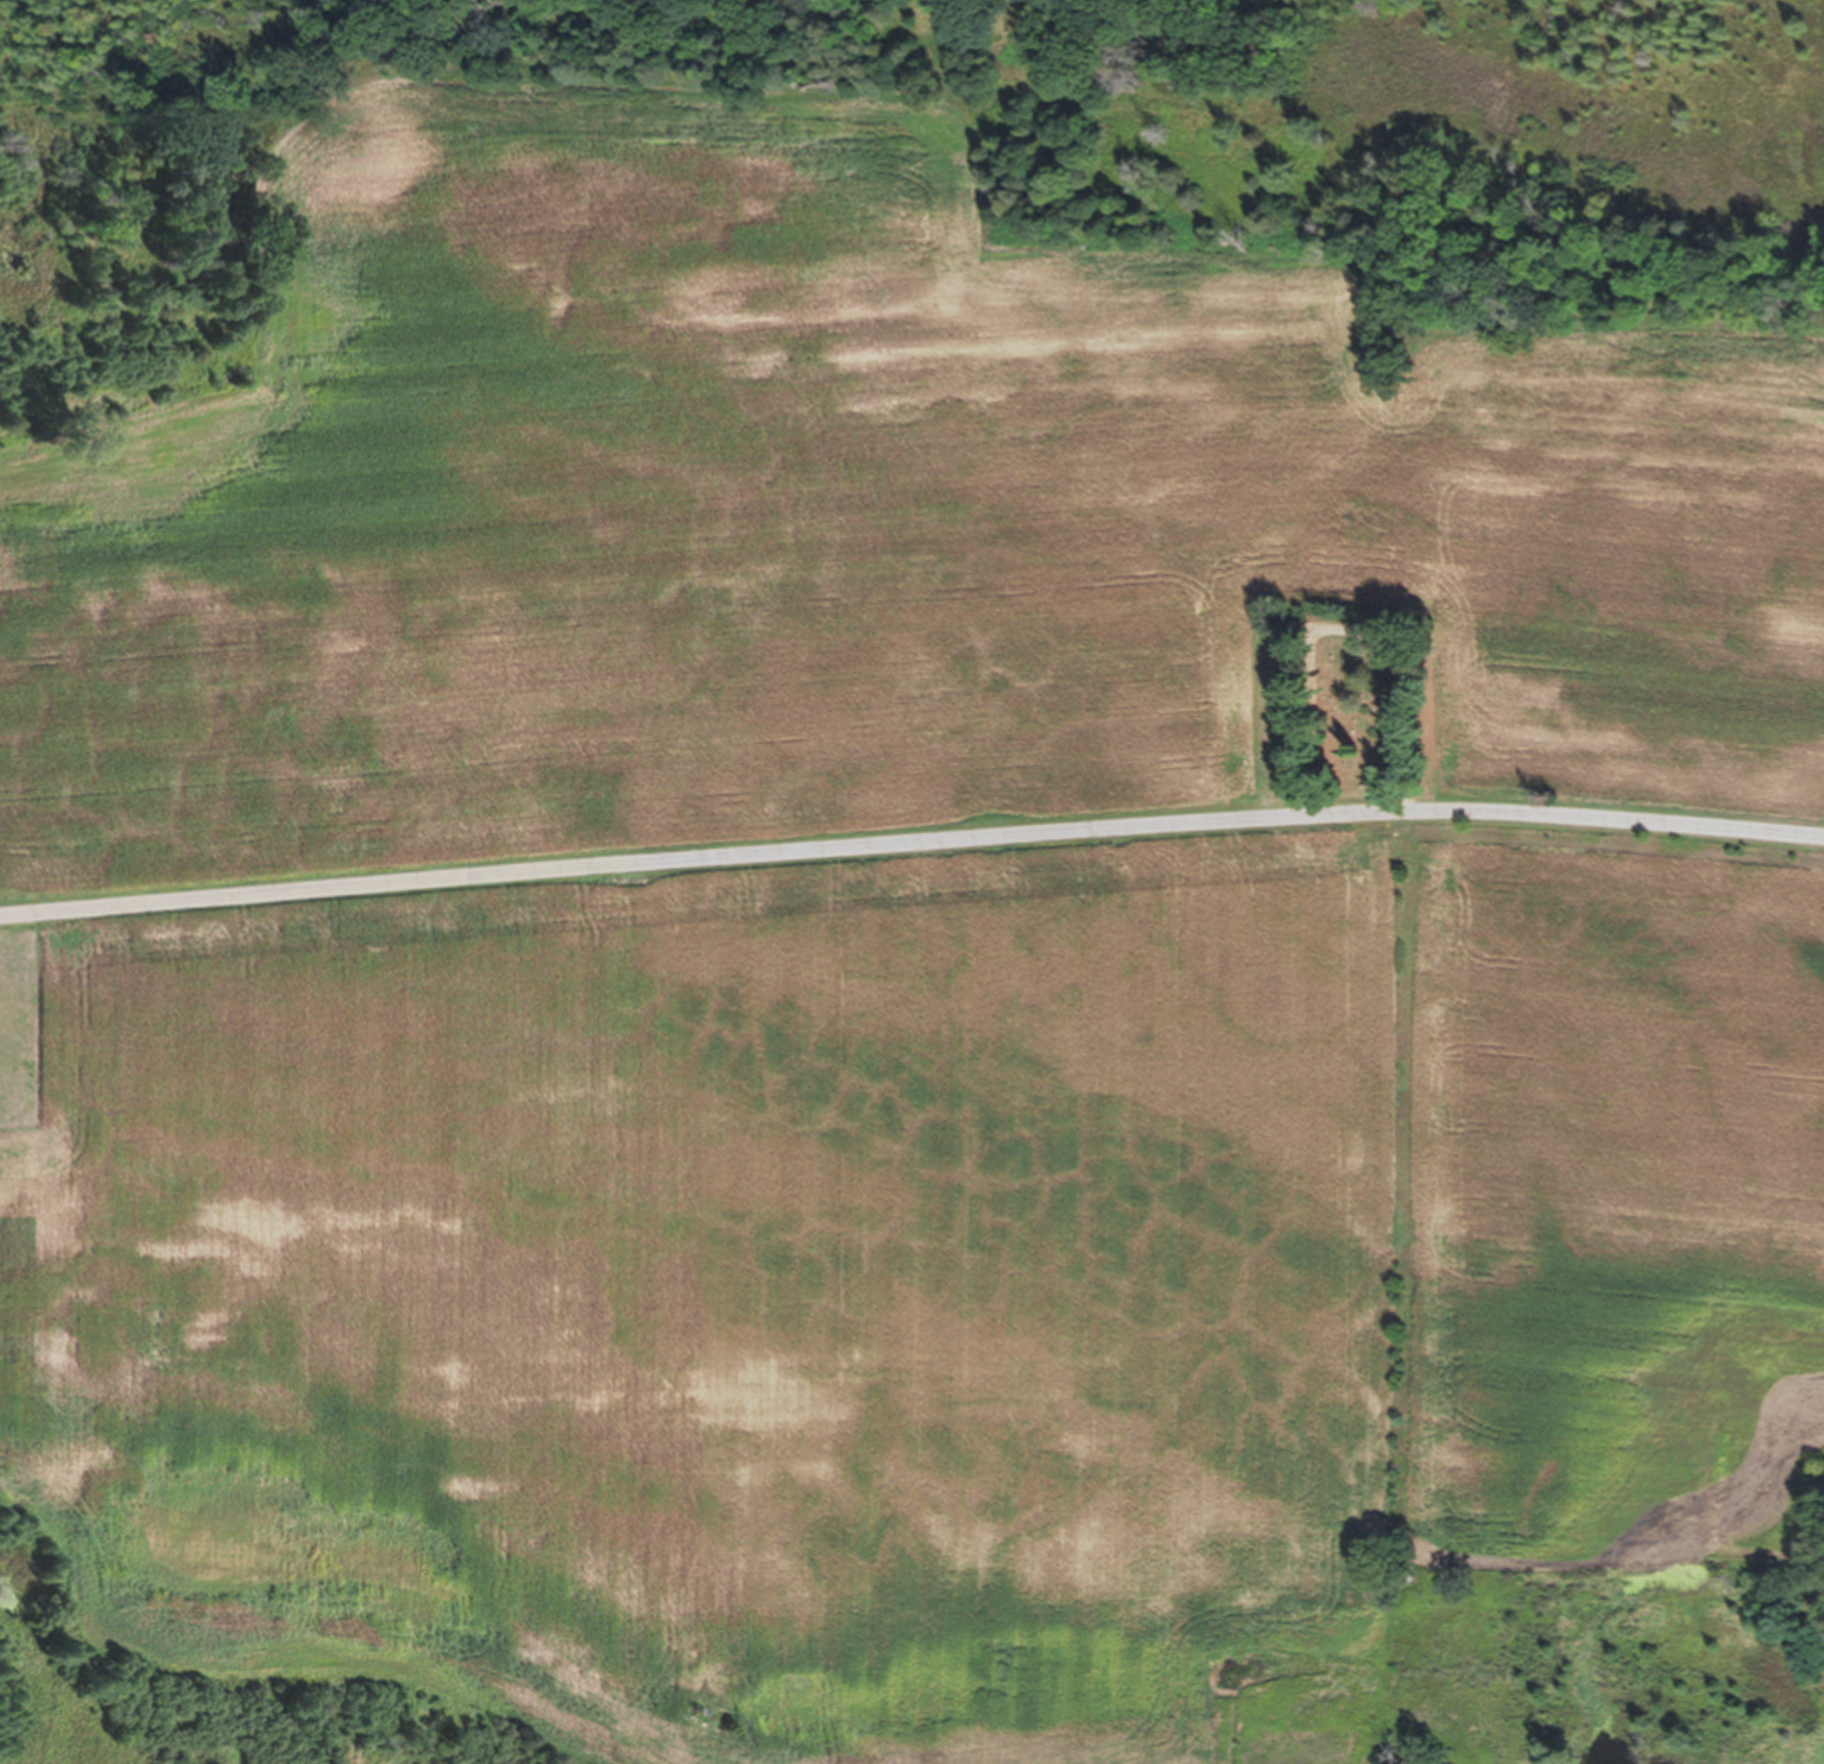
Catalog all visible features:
road: (911, 856)

